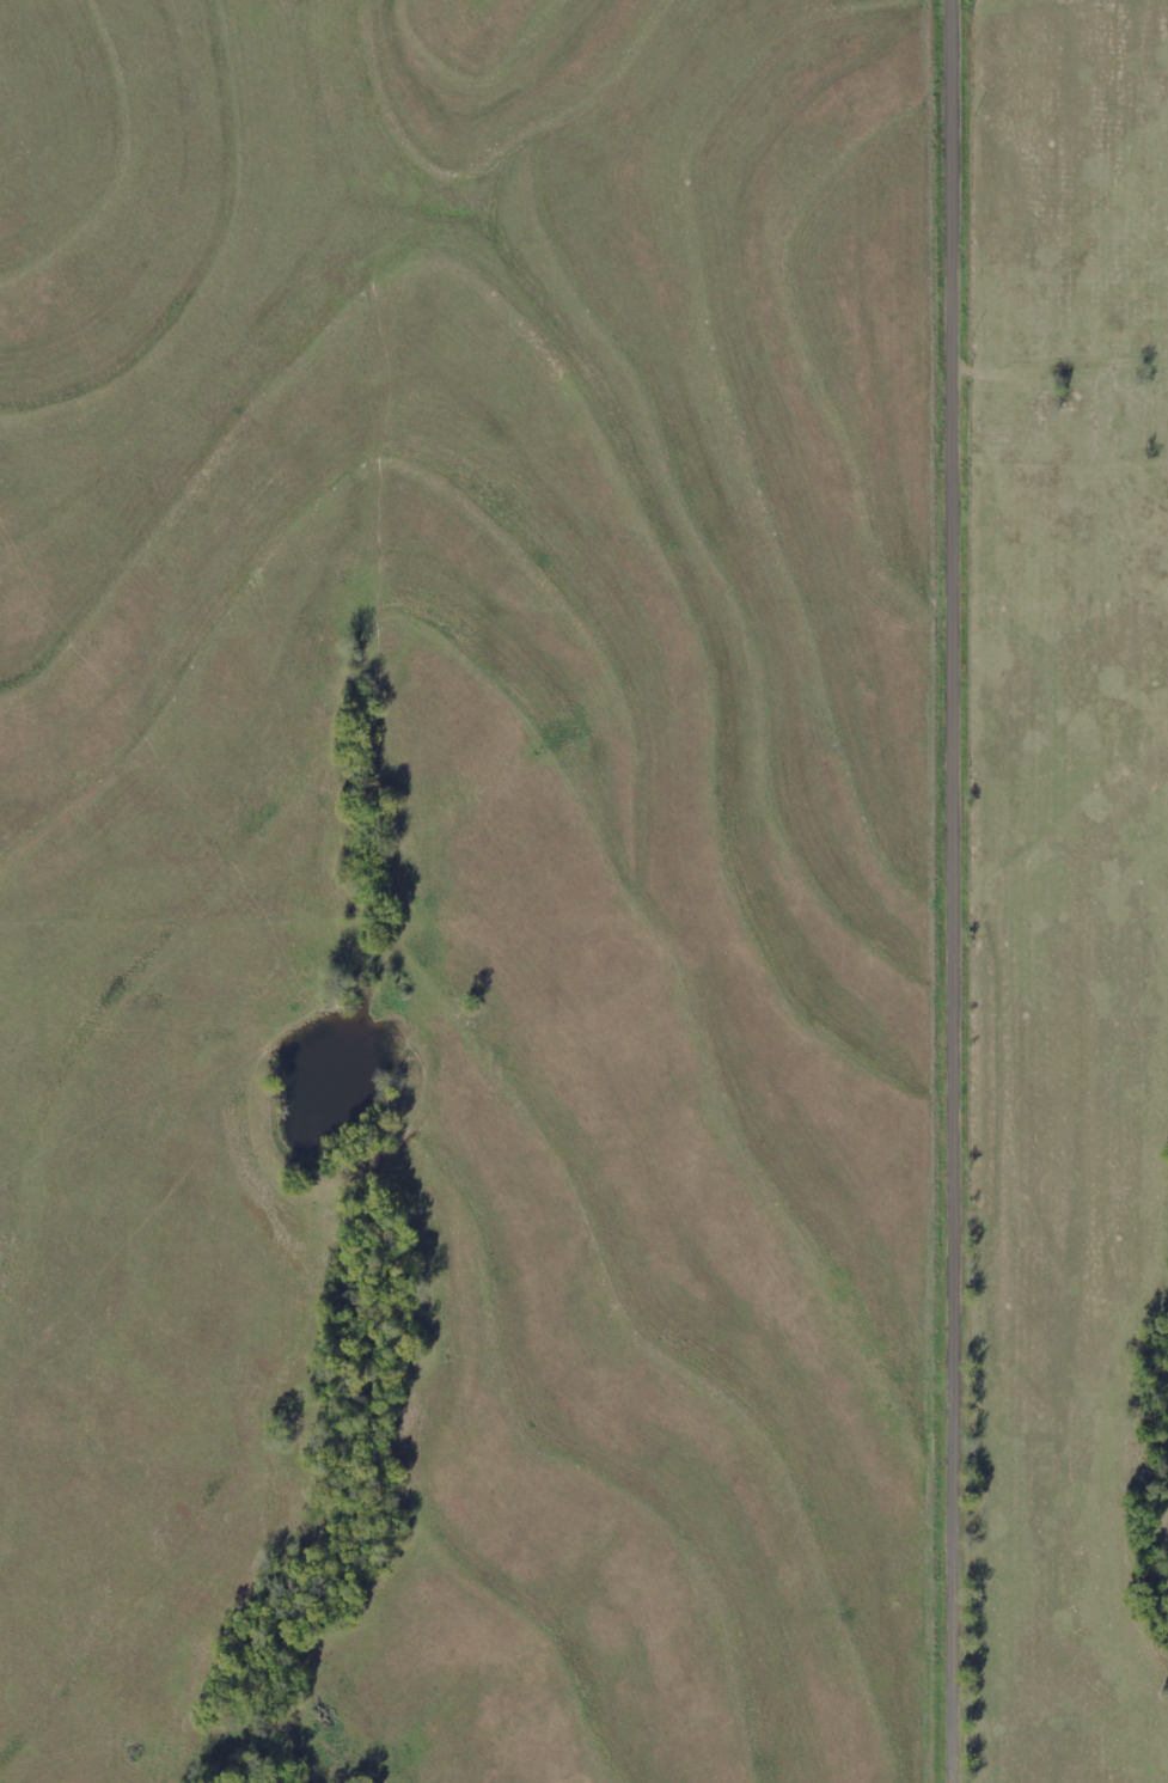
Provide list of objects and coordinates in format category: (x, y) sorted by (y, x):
road: (962, 891)

